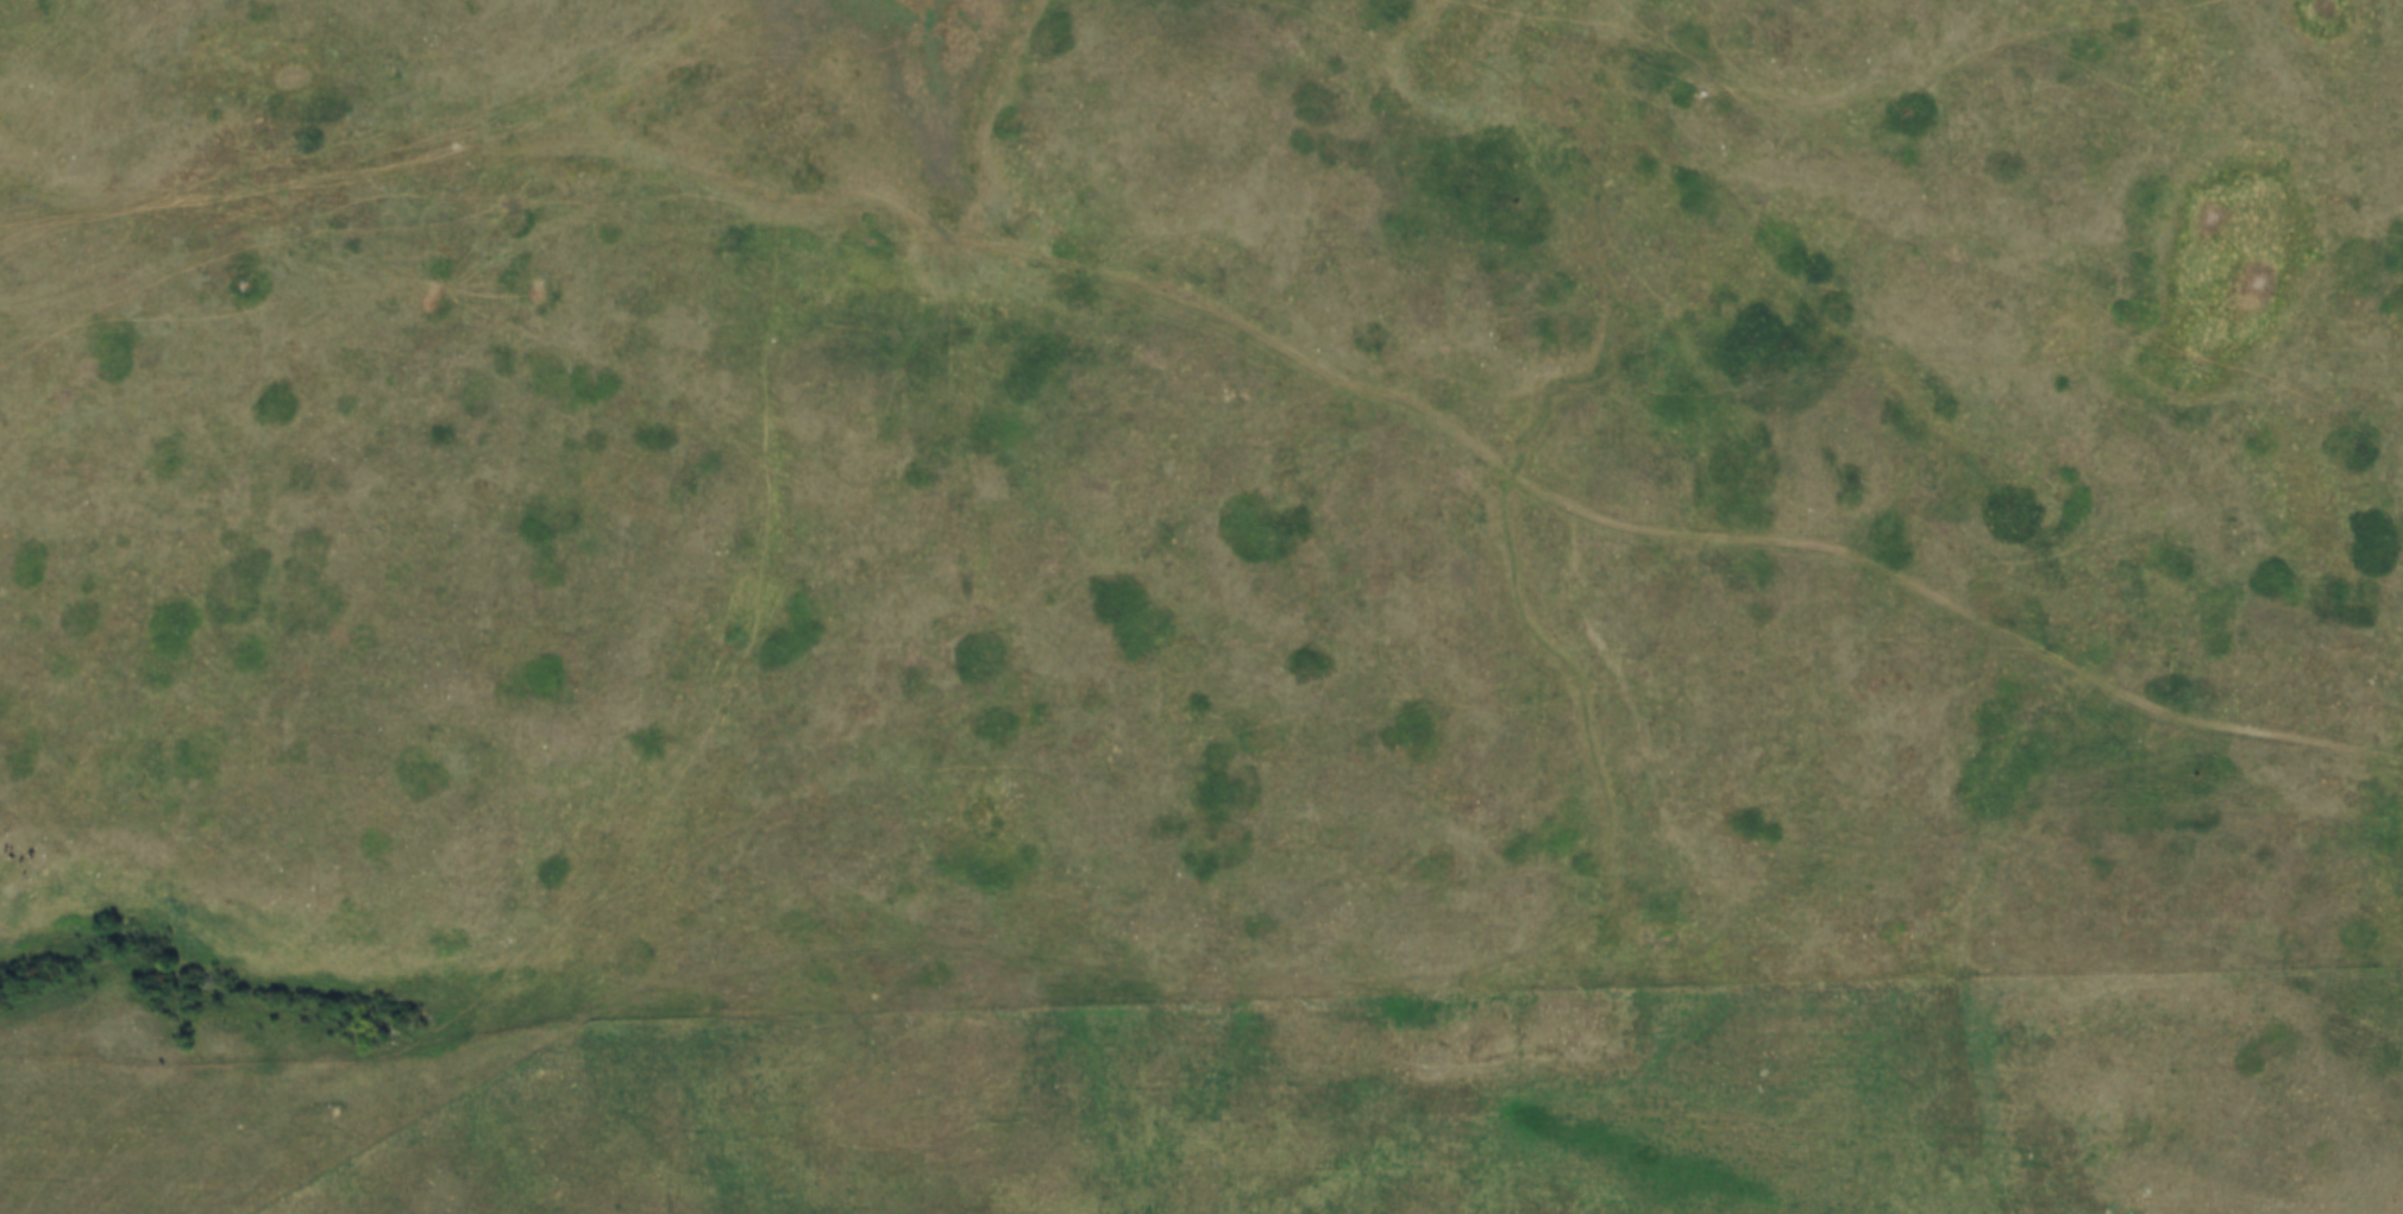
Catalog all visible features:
road: (1212, 315)

